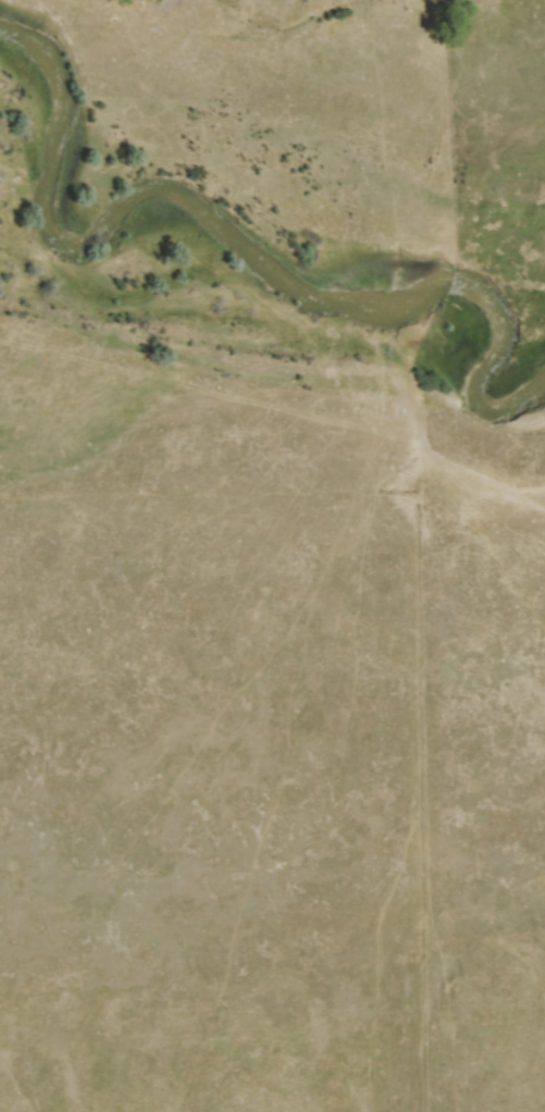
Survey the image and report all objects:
river: (240, 243)

